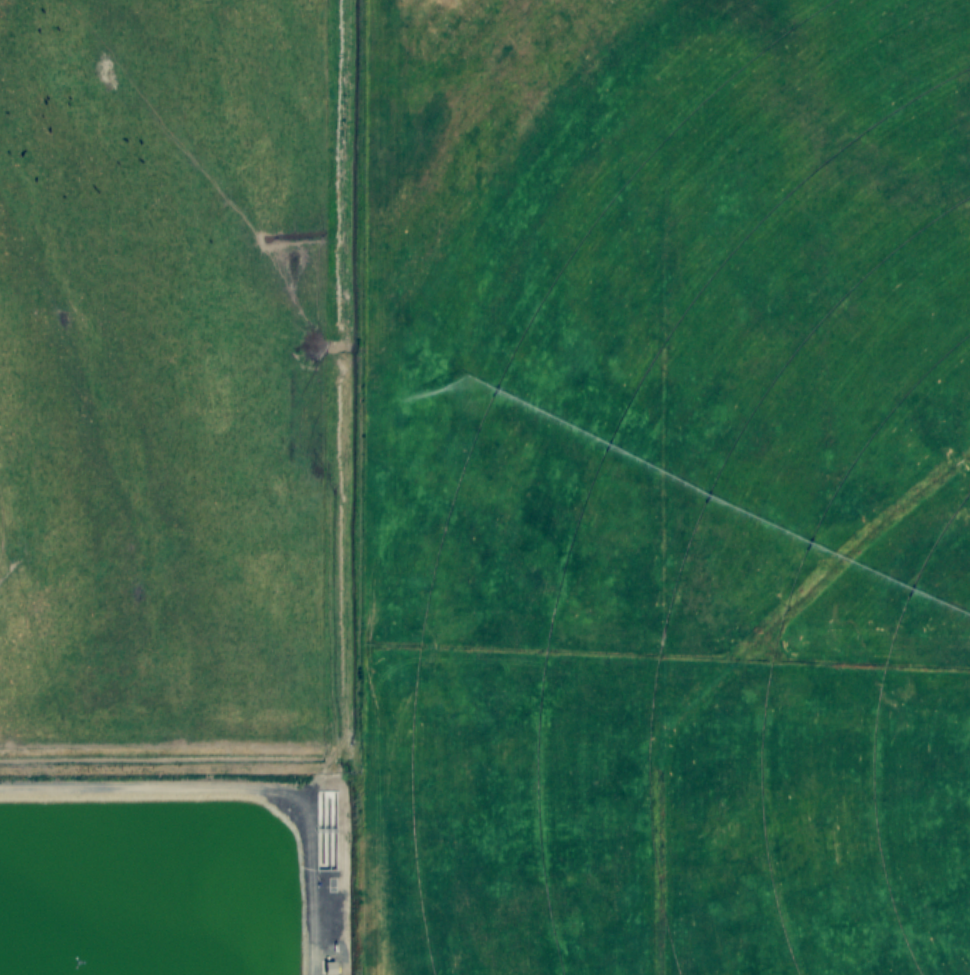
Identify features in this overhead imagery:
wastewater plant: (183, 869)

